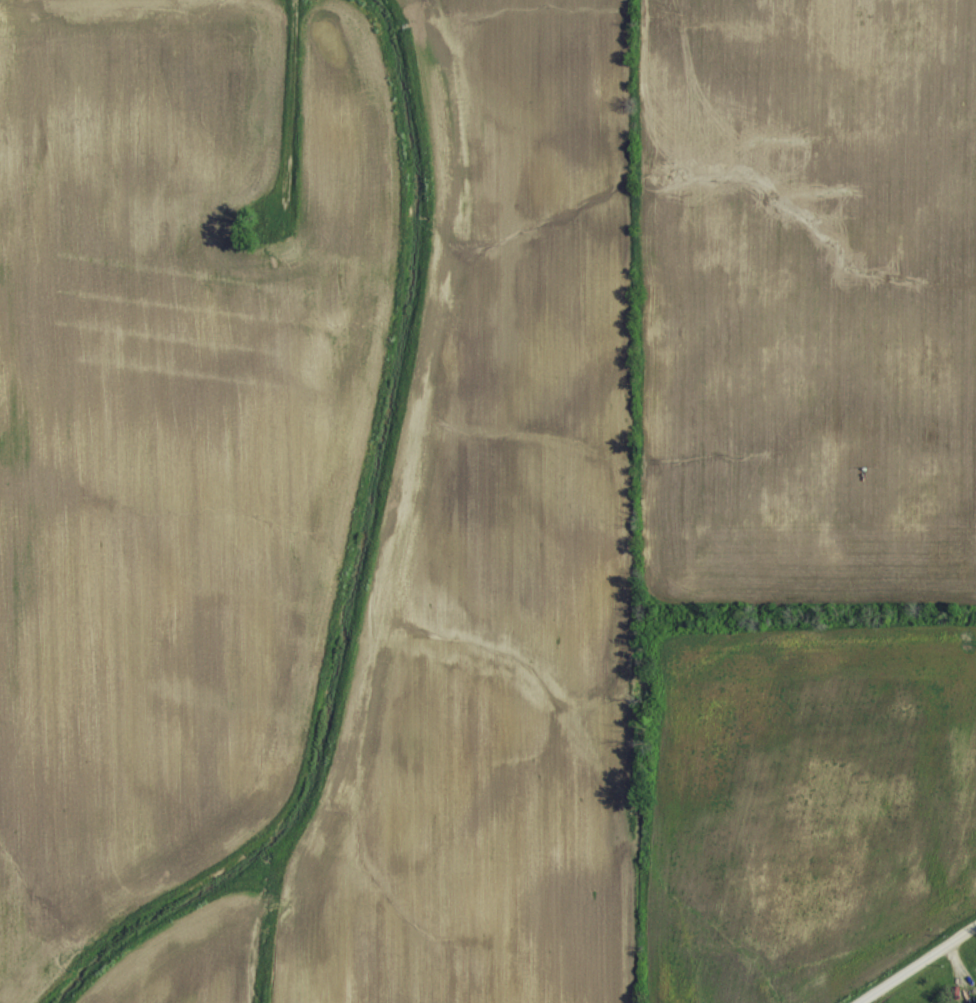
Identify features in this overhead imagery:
road: (905, 955)
building: (974, 1002)

